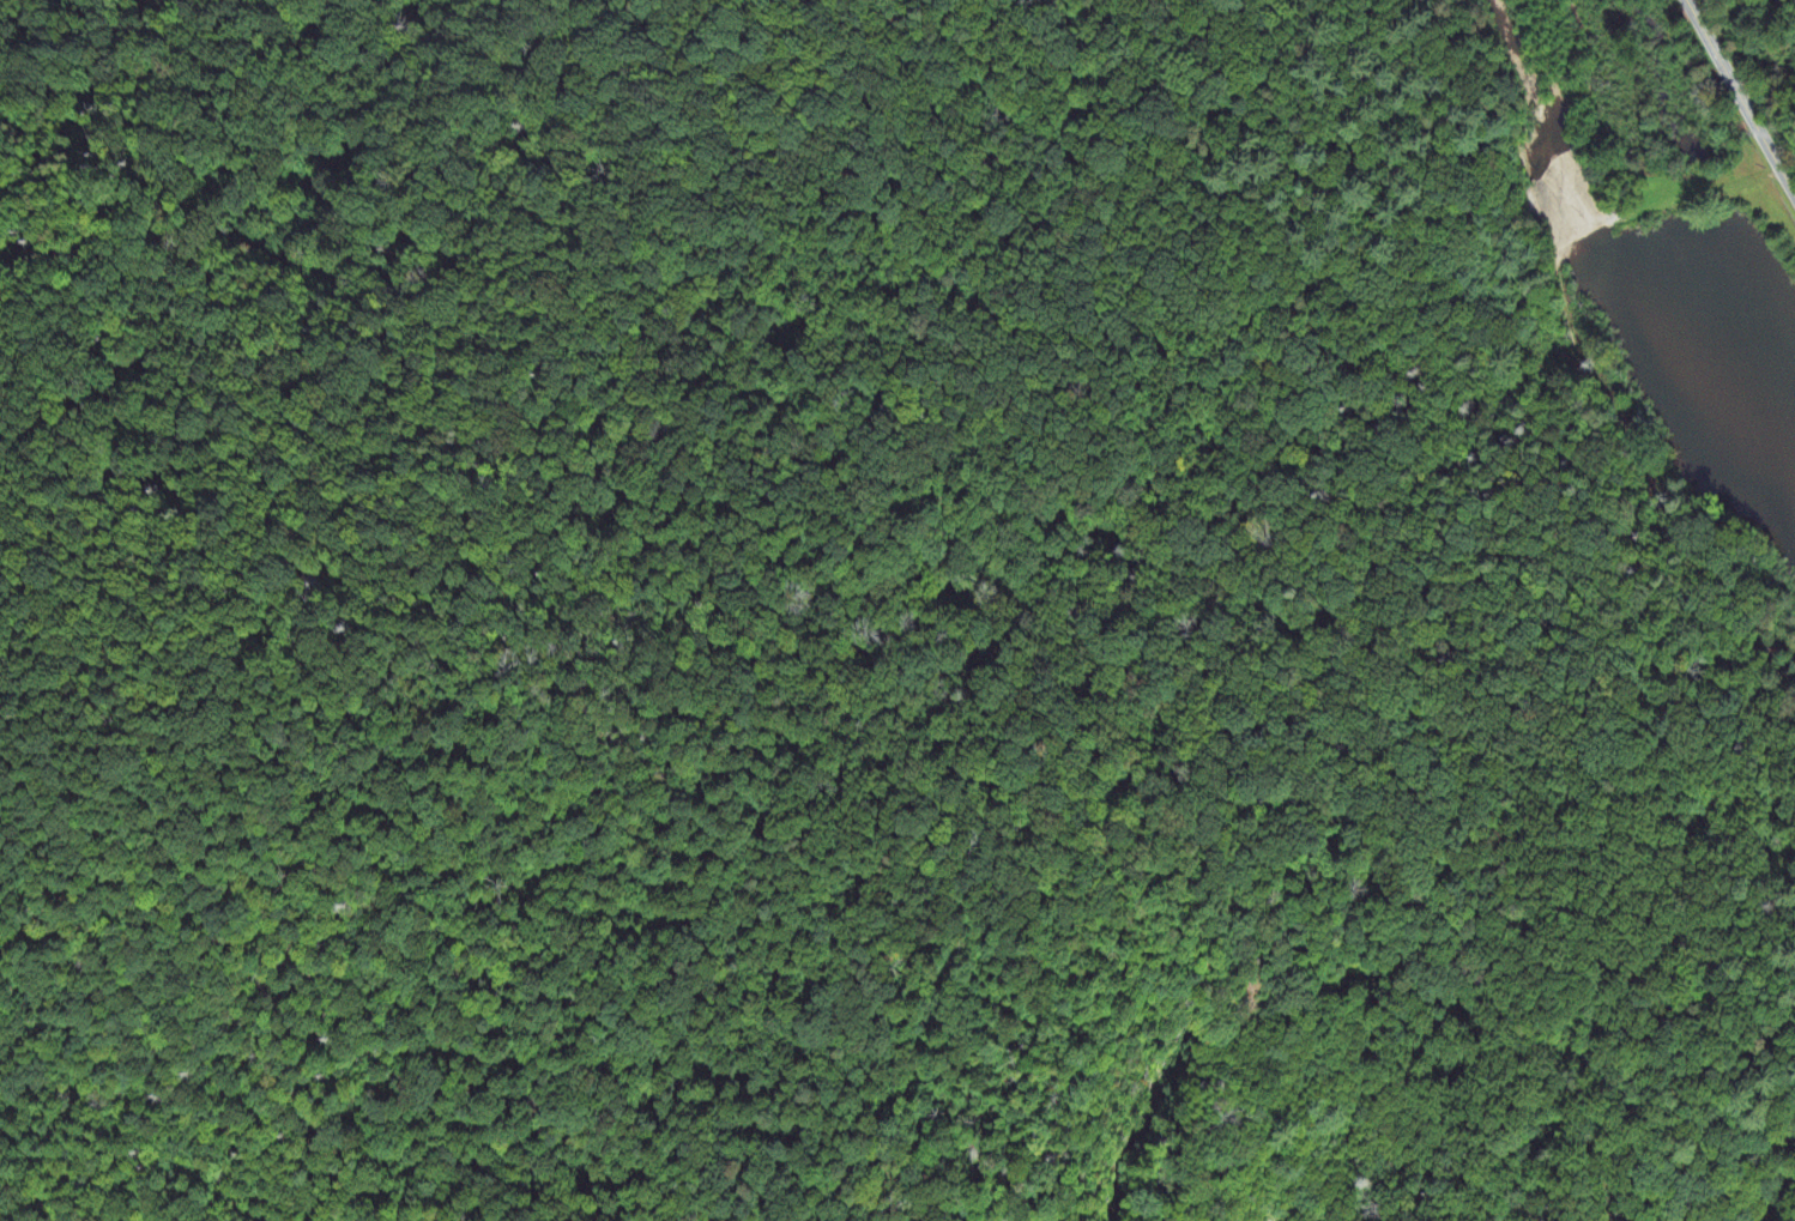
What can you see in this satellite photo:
road: (1740, 97)

